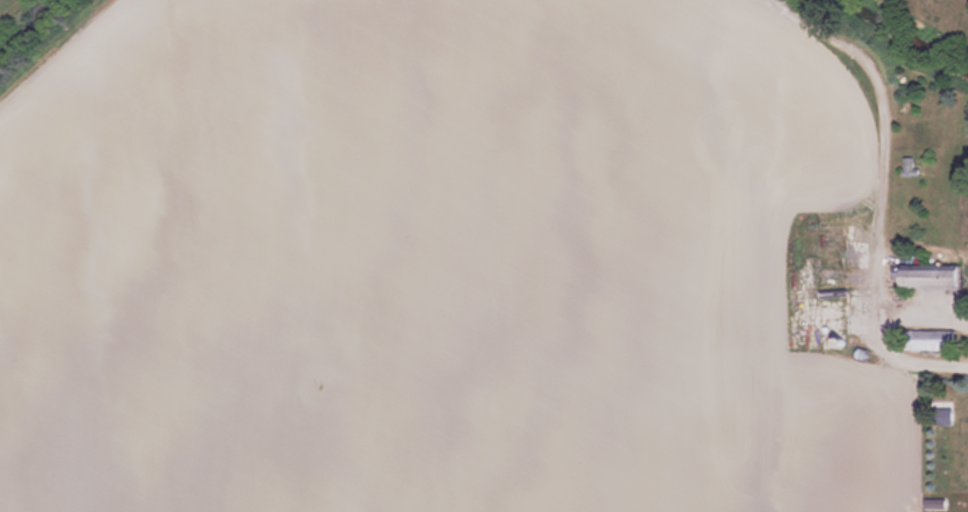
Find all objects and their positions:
building: (908, 166)
building: (936, 277)
road: (934, 312)
building: (931, 339)
building: (943, 412)

